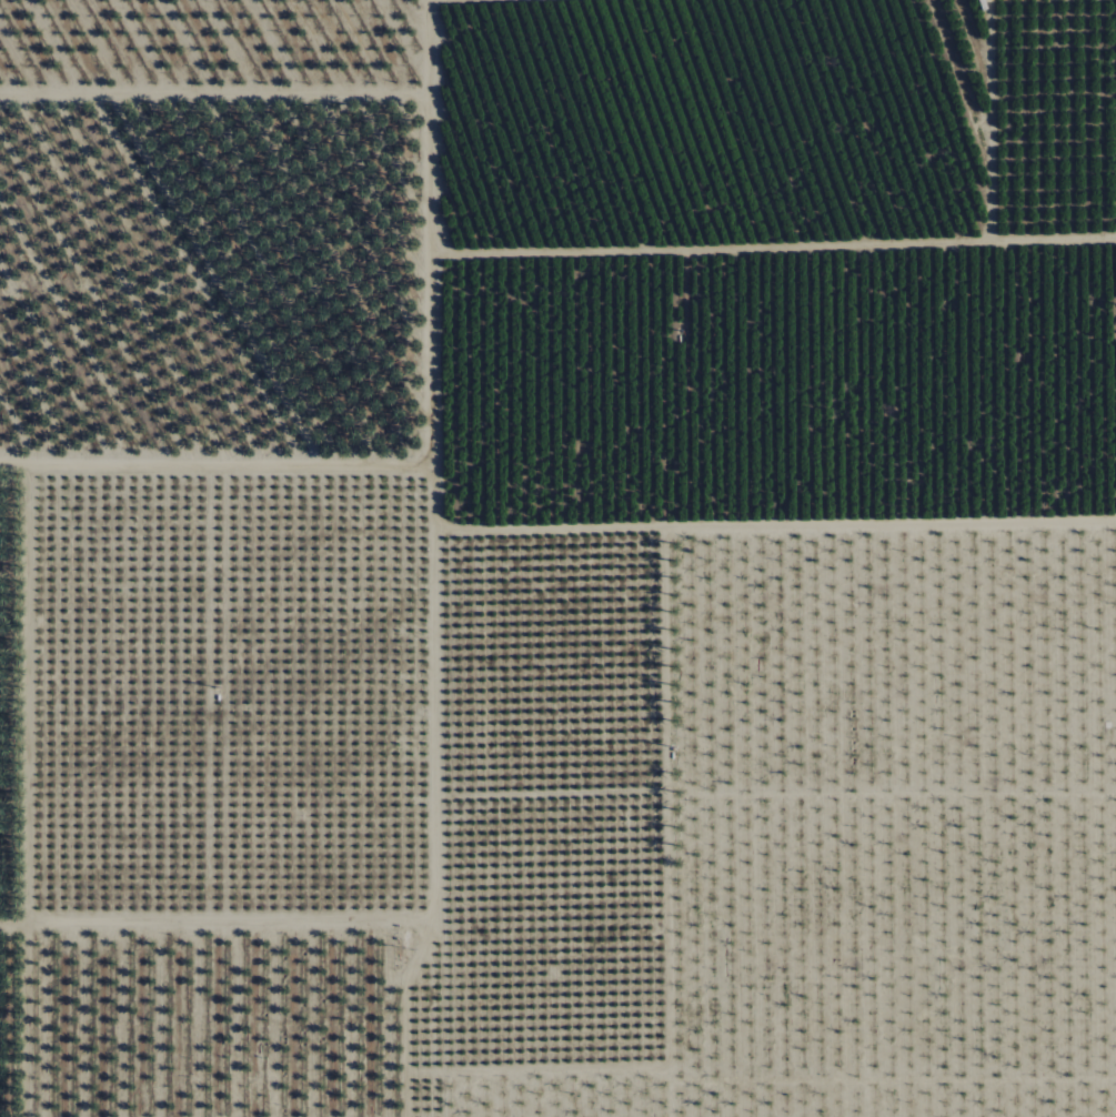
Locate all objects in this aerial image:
road: (218, 93)
road: (434, 475)
road: (220, 920)

